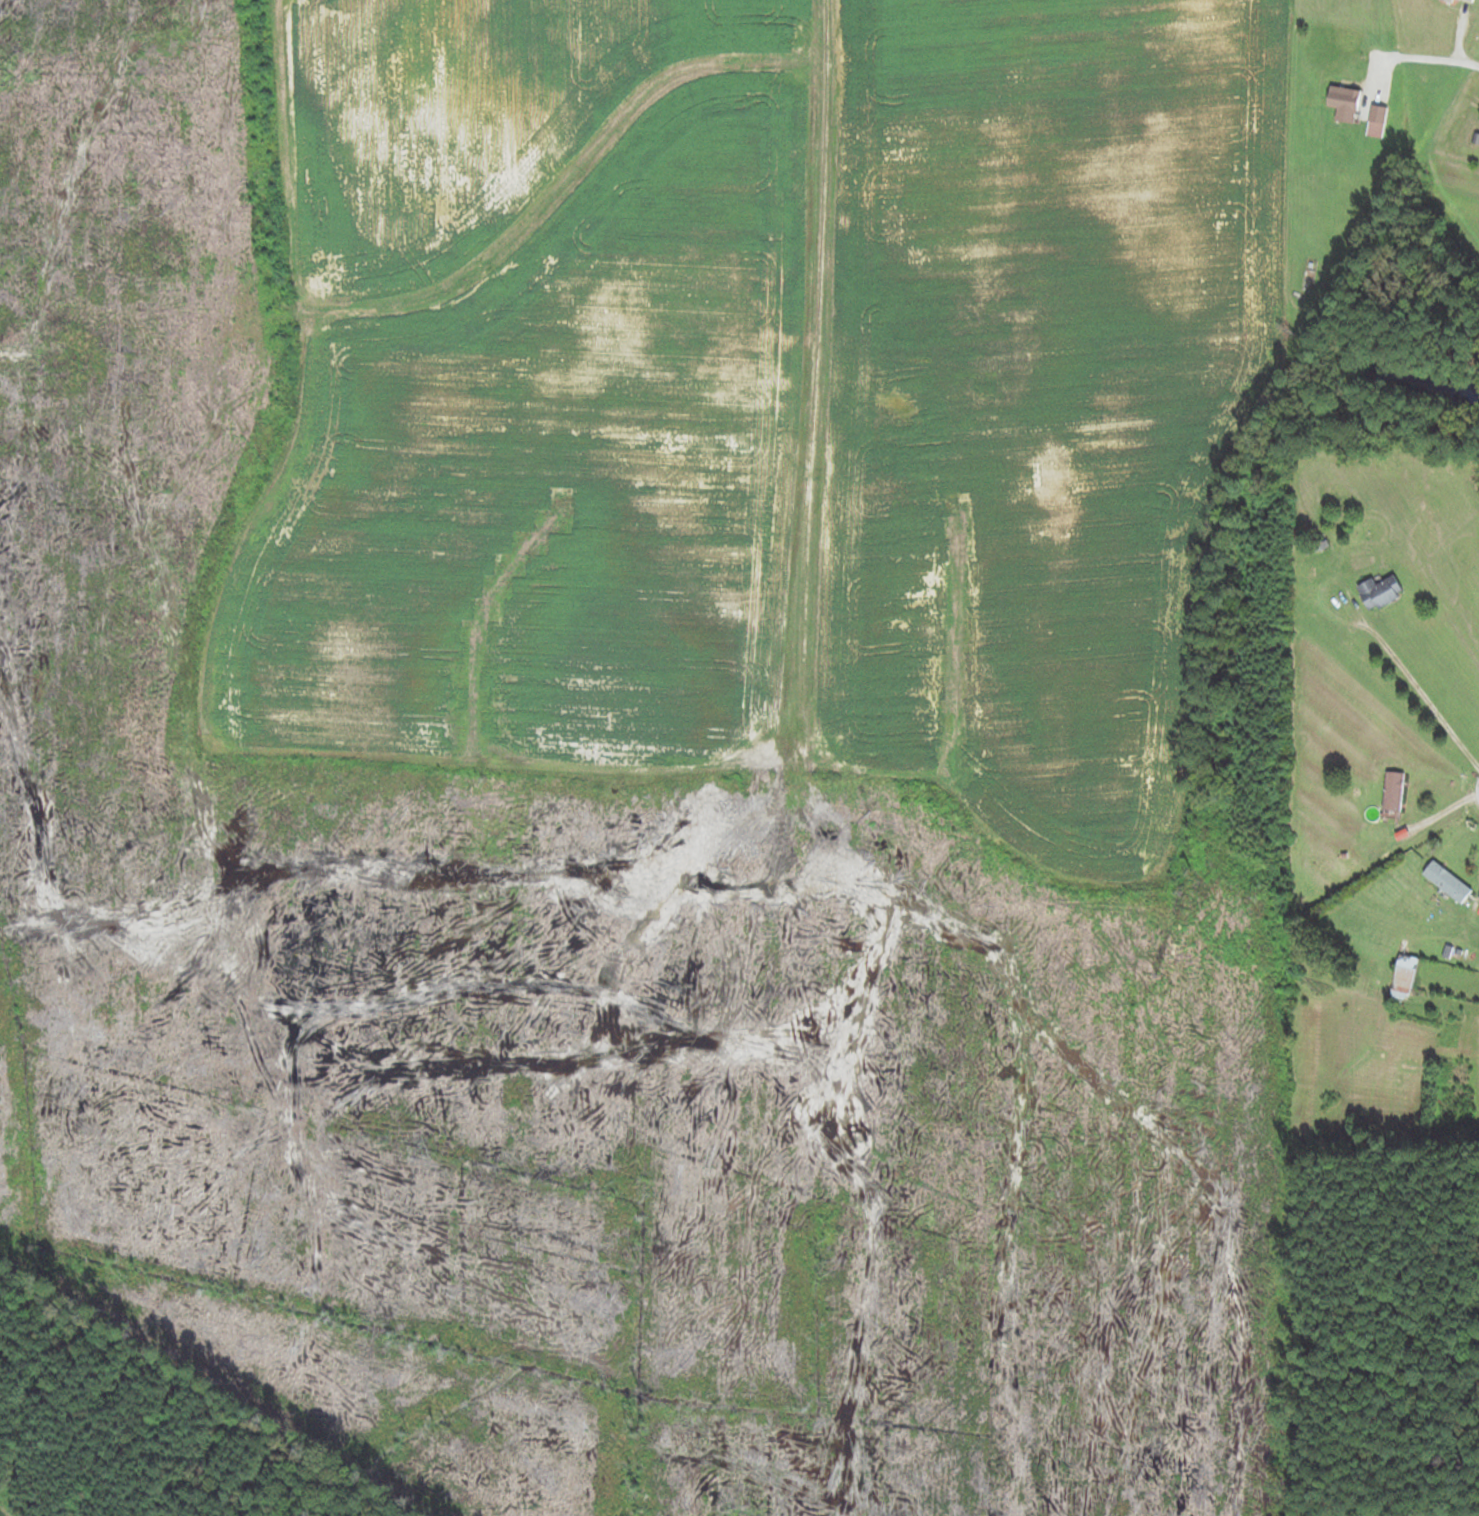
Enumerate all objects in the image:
building: (1467, 1)
road: (1427, 63)
building: (1345, 98)
building: (1379, 113)
building: (1381, 593)
building: (1394, 791)
building: (1448, 882)
building: (1405, 978)

